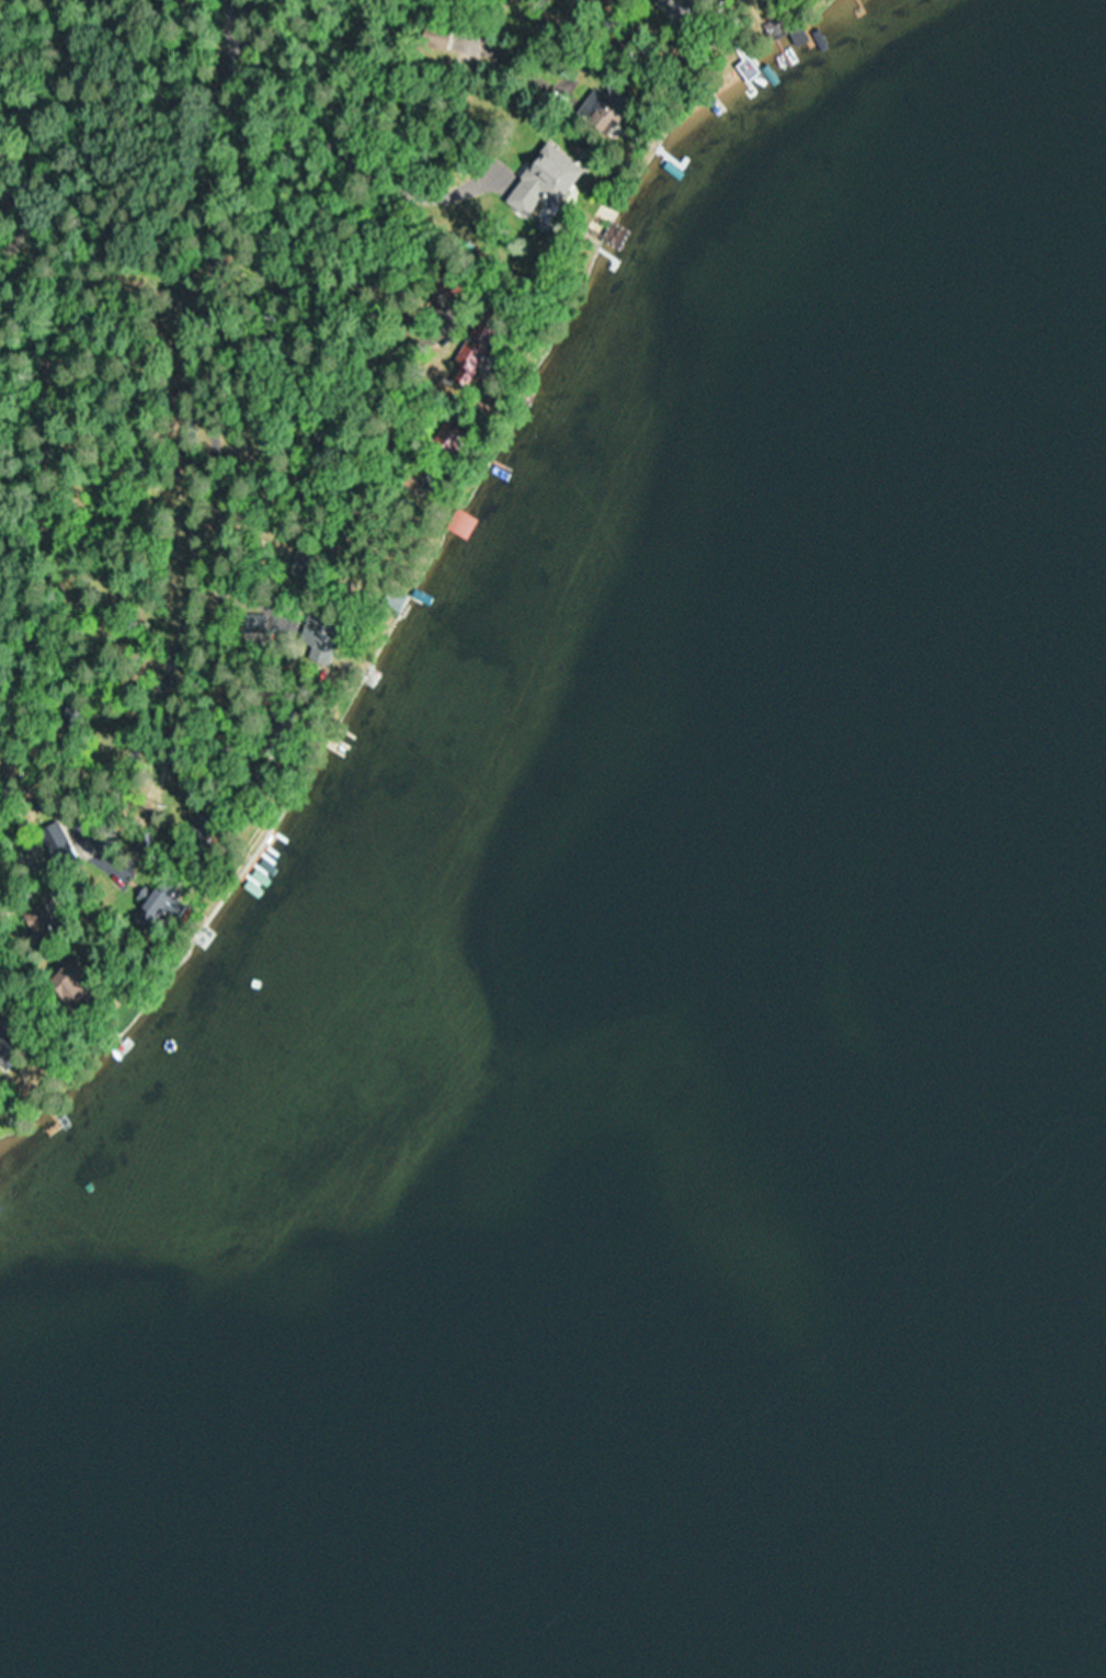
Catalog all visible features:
building: (565, 0)
building: (672, 8)
building: (437, 38)
building: (600, 111)
building: (567, 169)
road: (69, 214)
building: (466, 364)
road: (182, 396)
building: (460, 525)
building: (58, 836)
building: (152, 900)
building: (70, 986)
building: (2, 1048)

